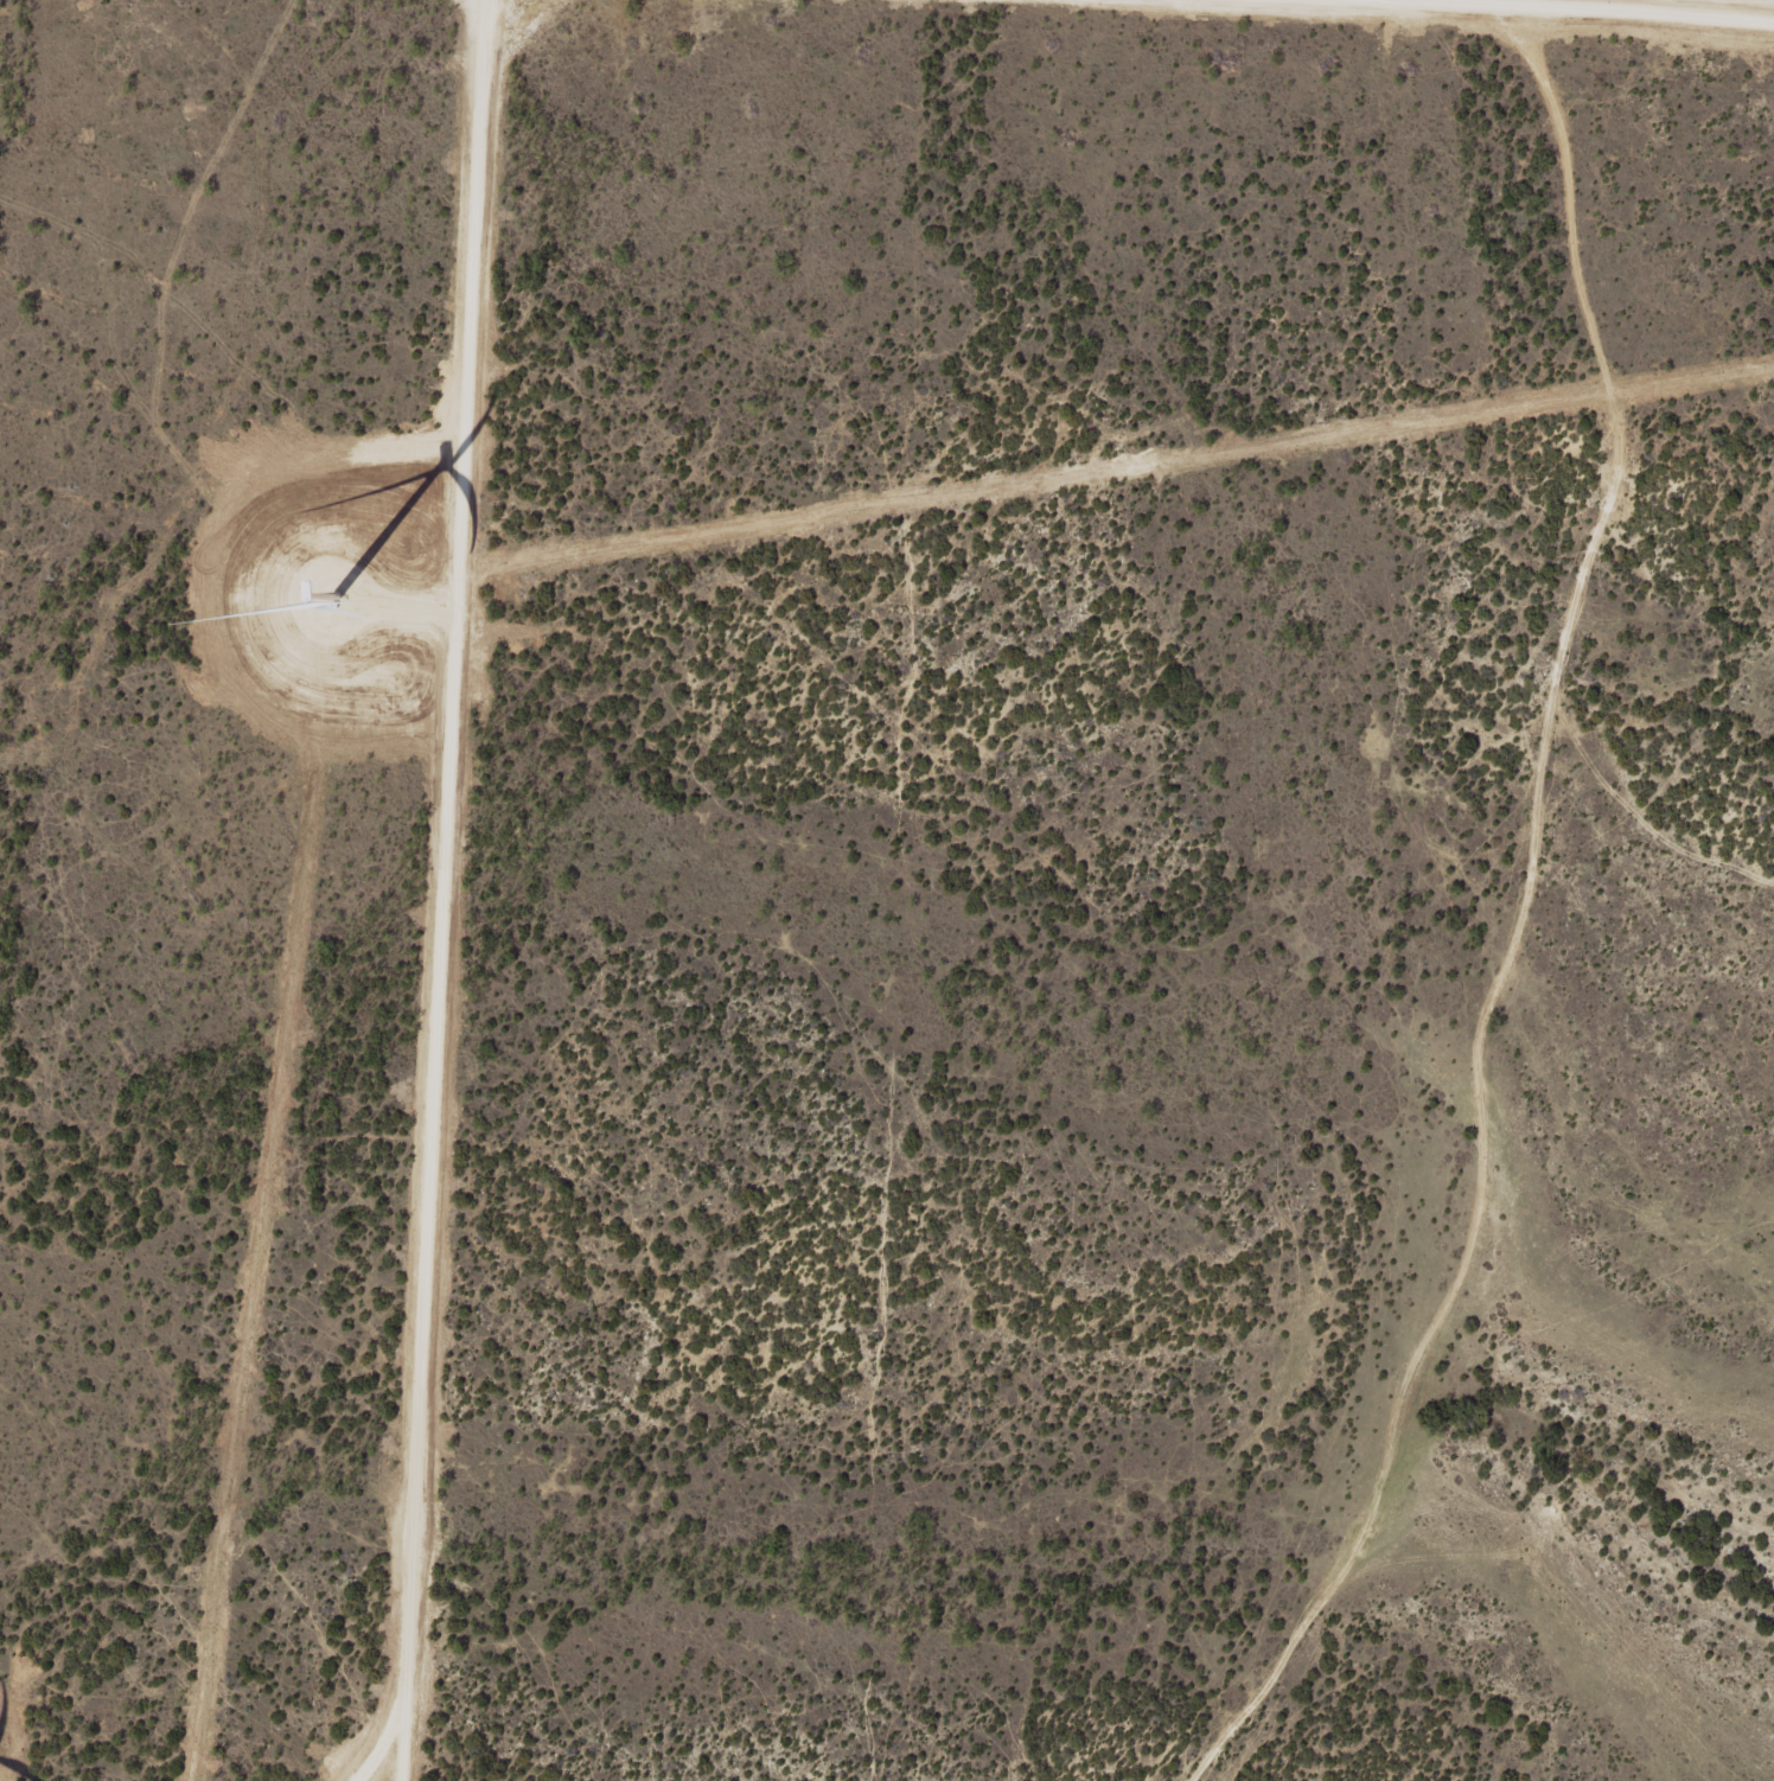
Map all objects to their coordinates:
road: (1742, 1)
wind turbine: (334, 586)
road: (1555, 921)

